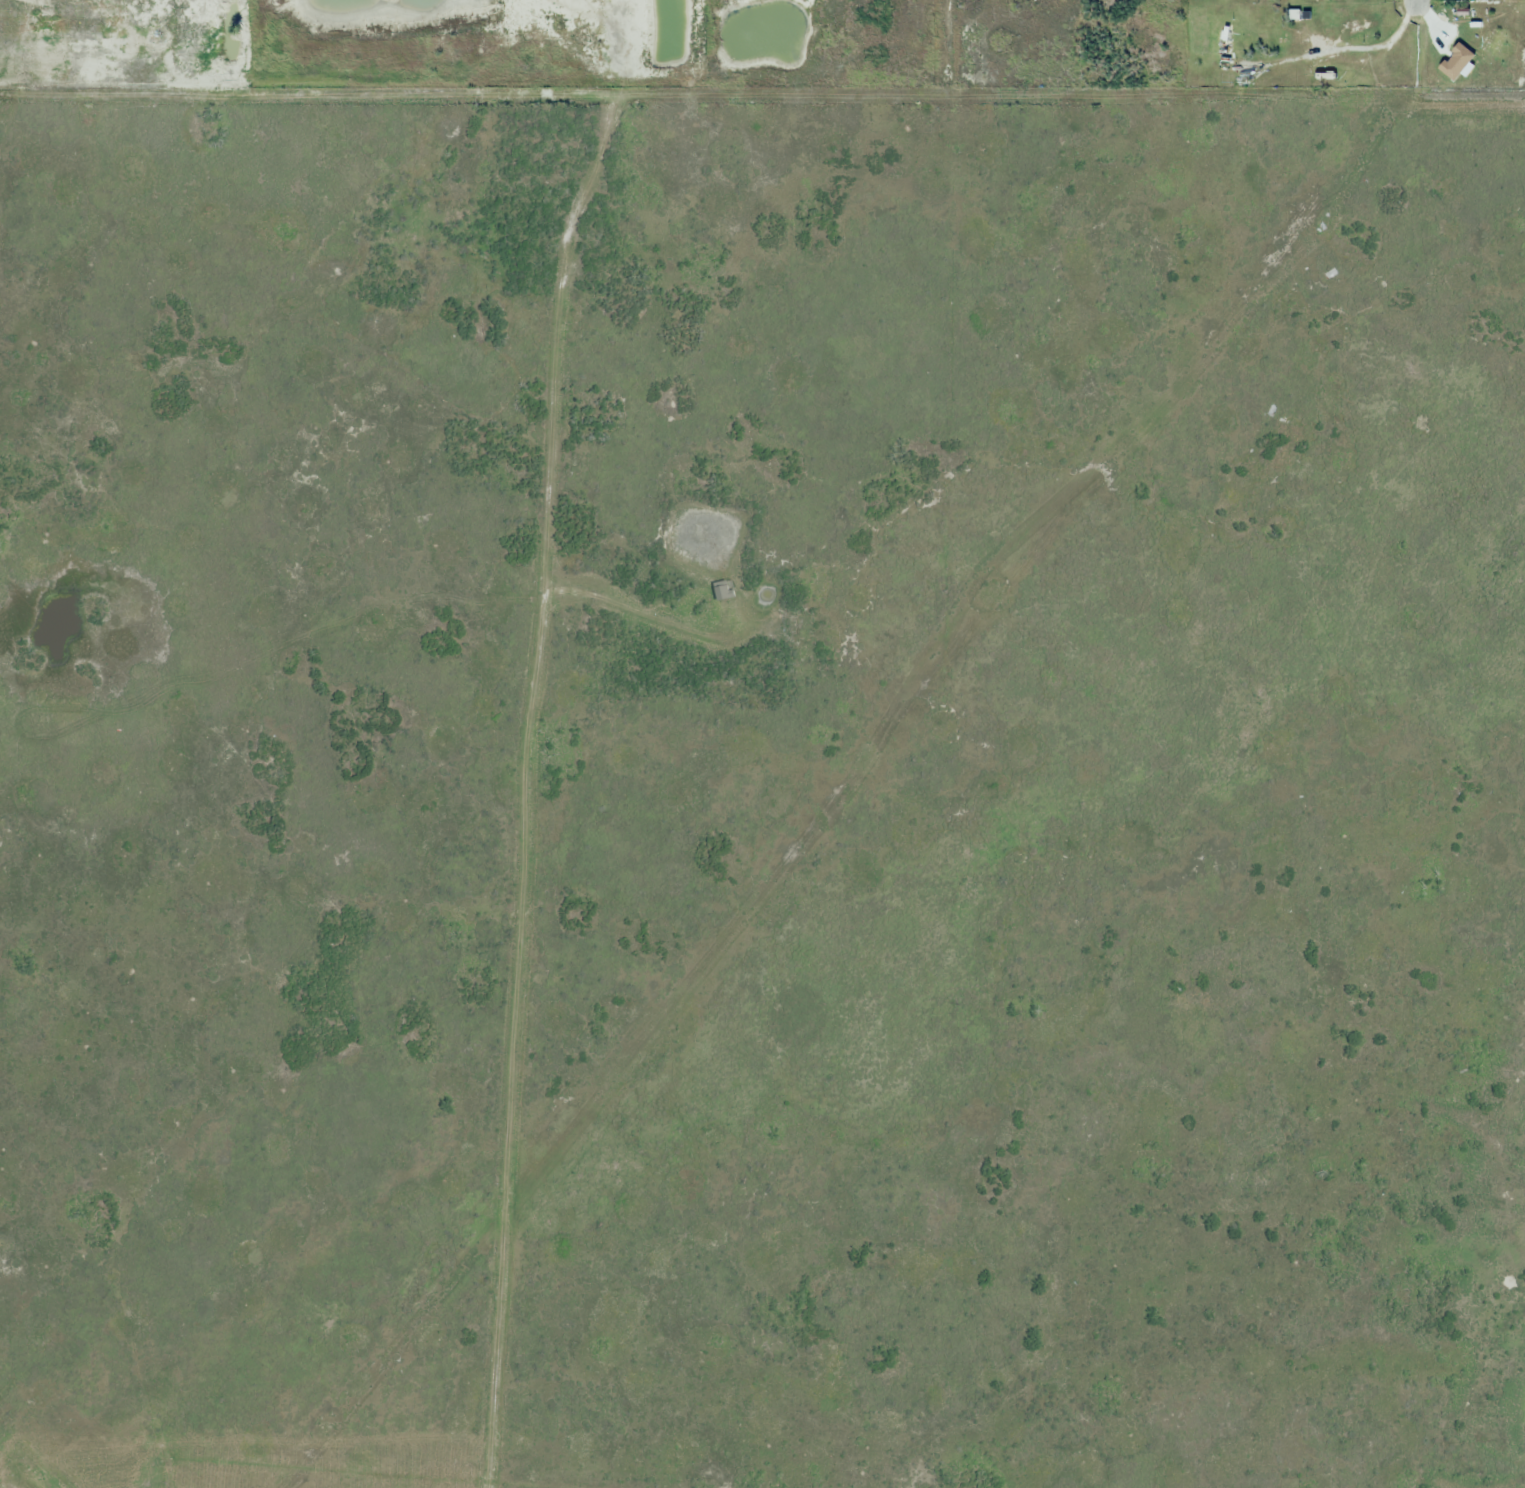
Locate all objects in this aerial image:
building: (1224, 38)
building: (1332, 75)

